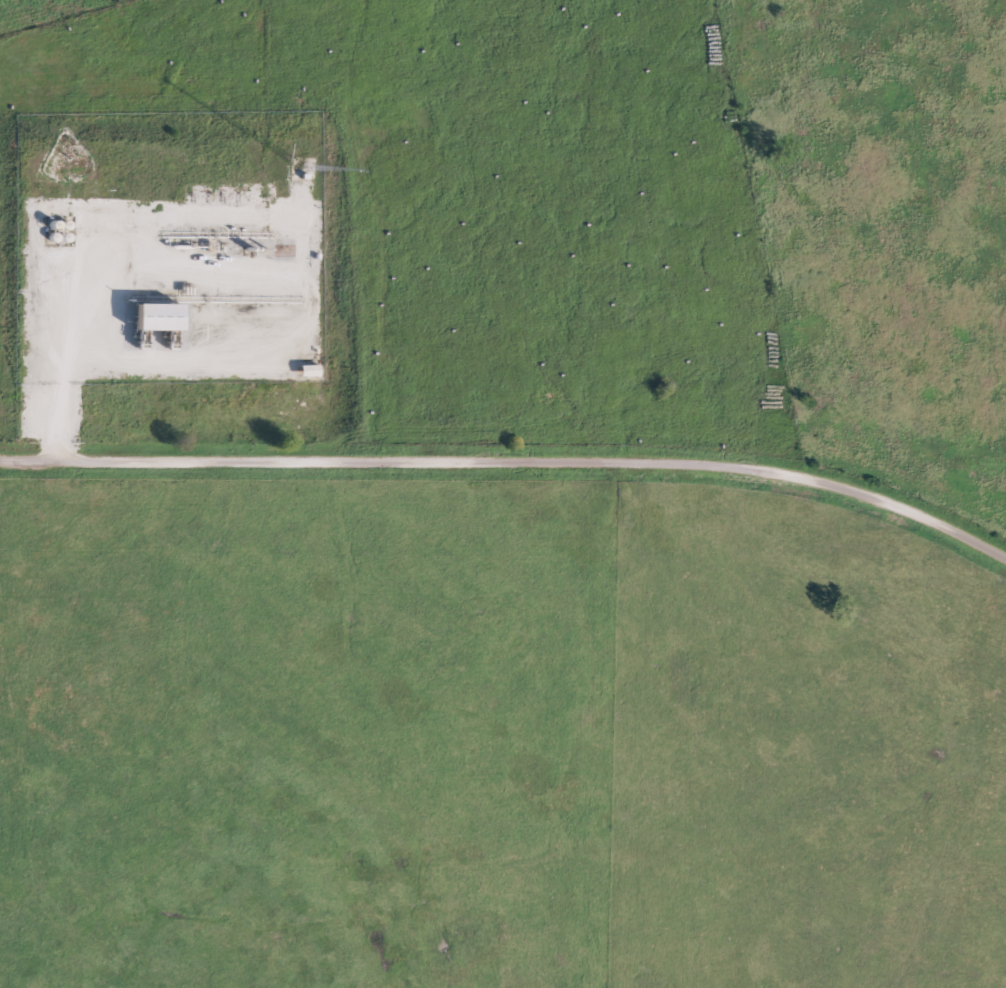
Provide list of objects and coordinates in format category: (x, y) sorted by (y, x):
building: (157, 319)
building: (309, 372)
road: (511, 463)

